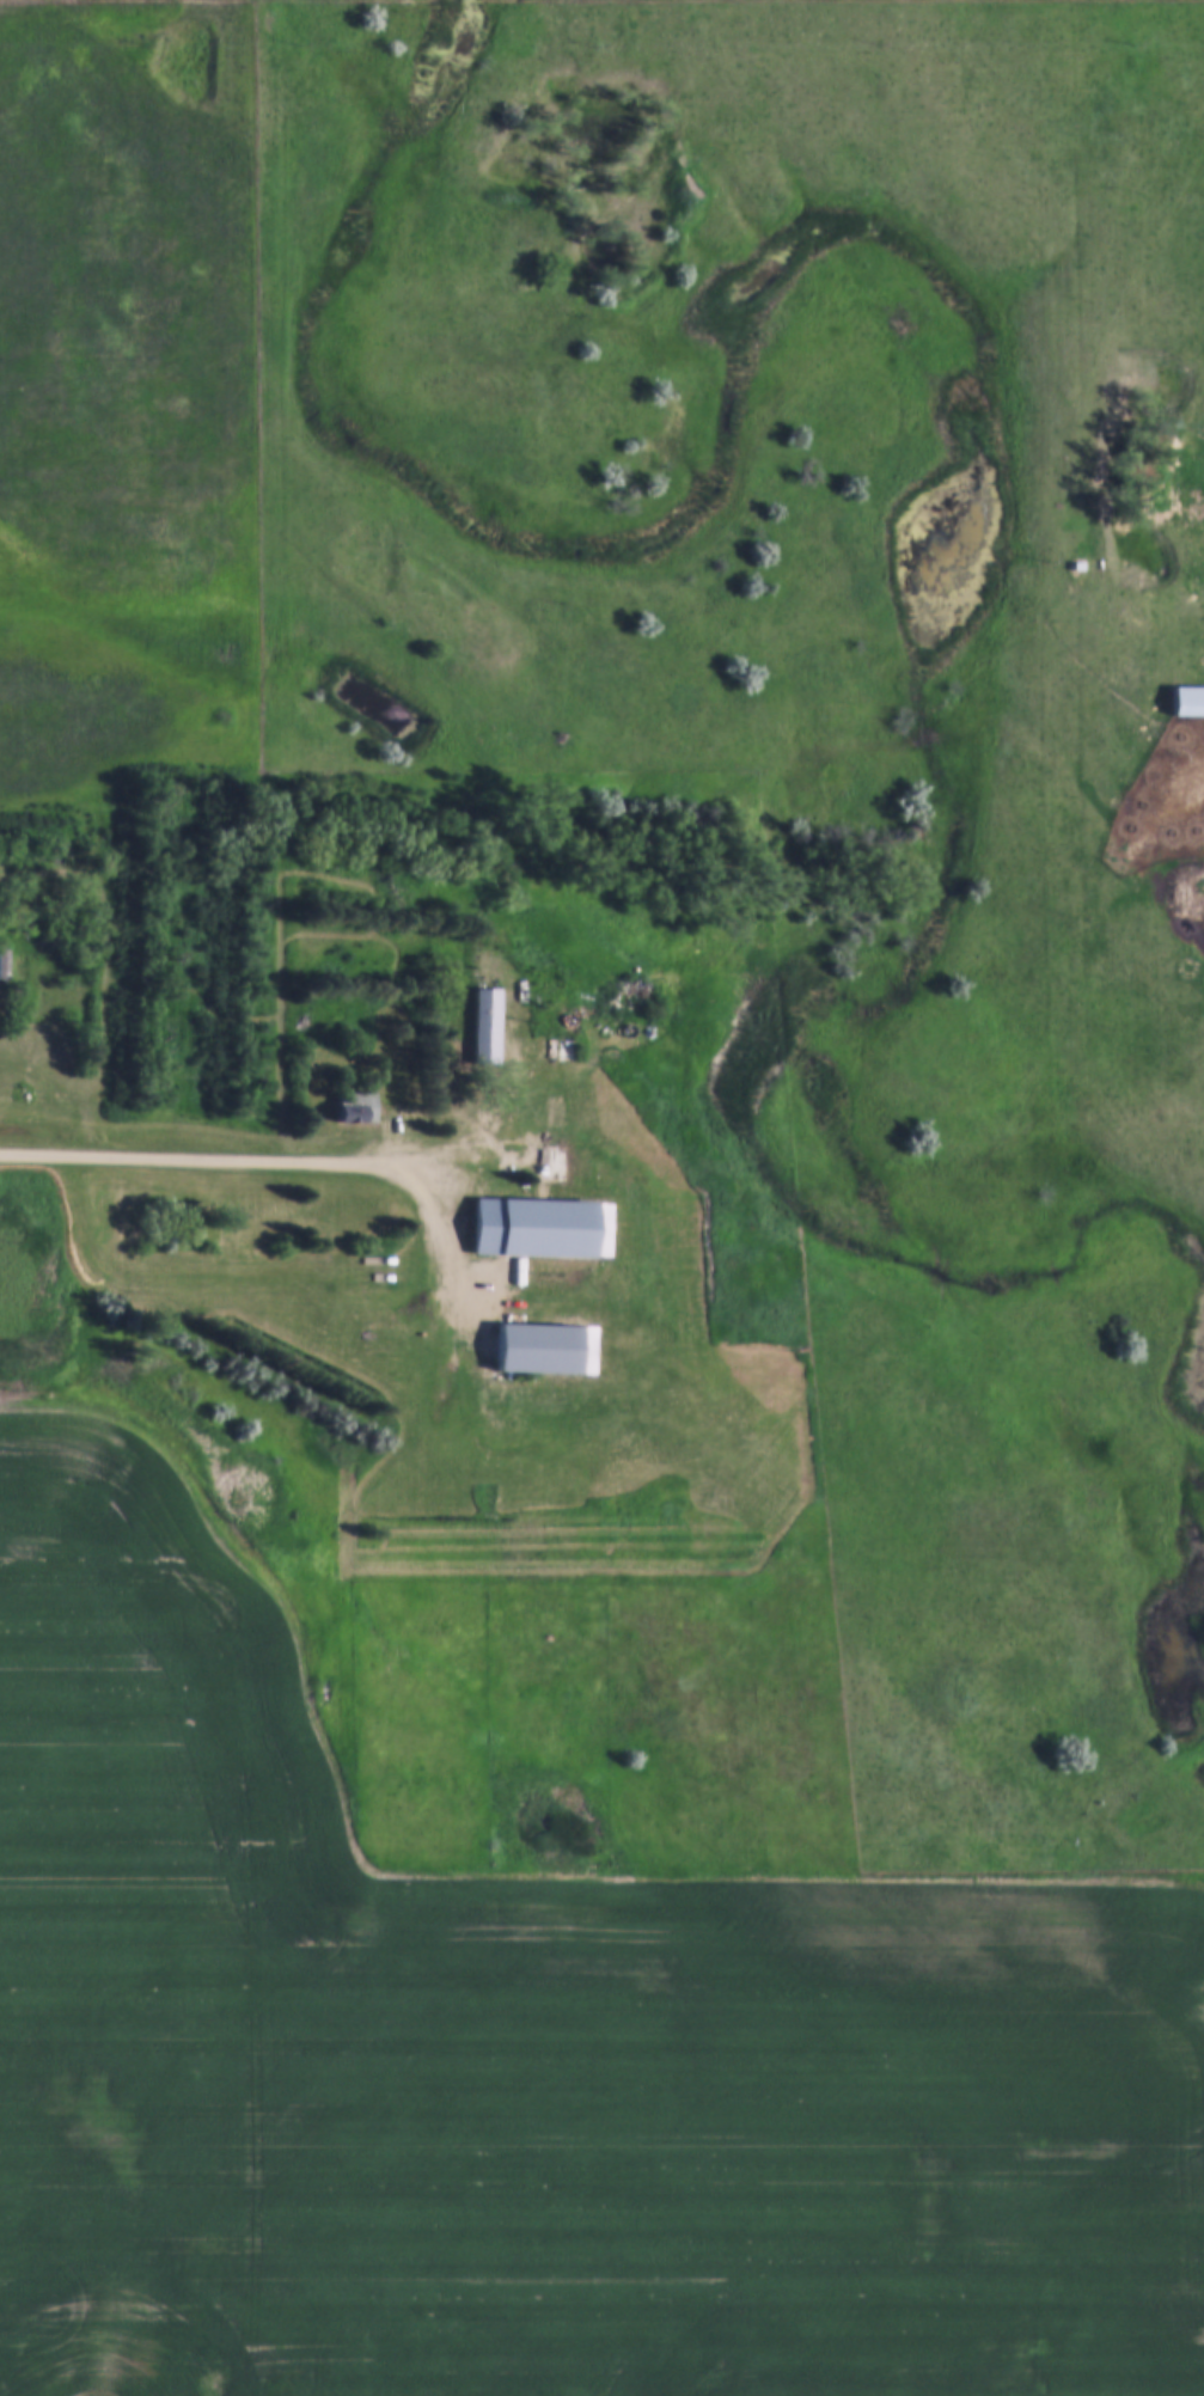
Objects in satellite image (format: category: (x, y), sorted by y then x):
building: (467, 1049)
building: (567, 1050)
building: (357, 1108)
road: (244, 1156)
building: (539, 1229)

